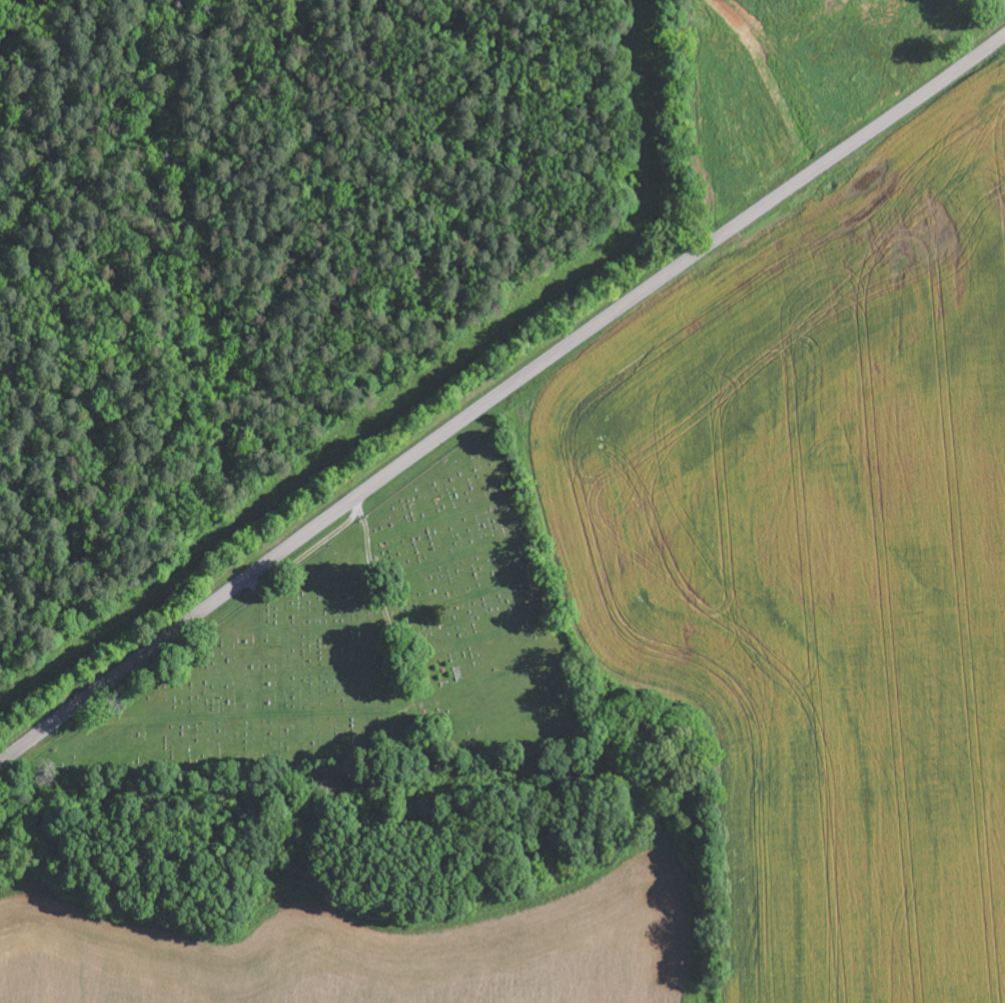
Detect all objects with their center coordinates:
road: (855, 143)
road: (348, 503)
park: (371, 655)

